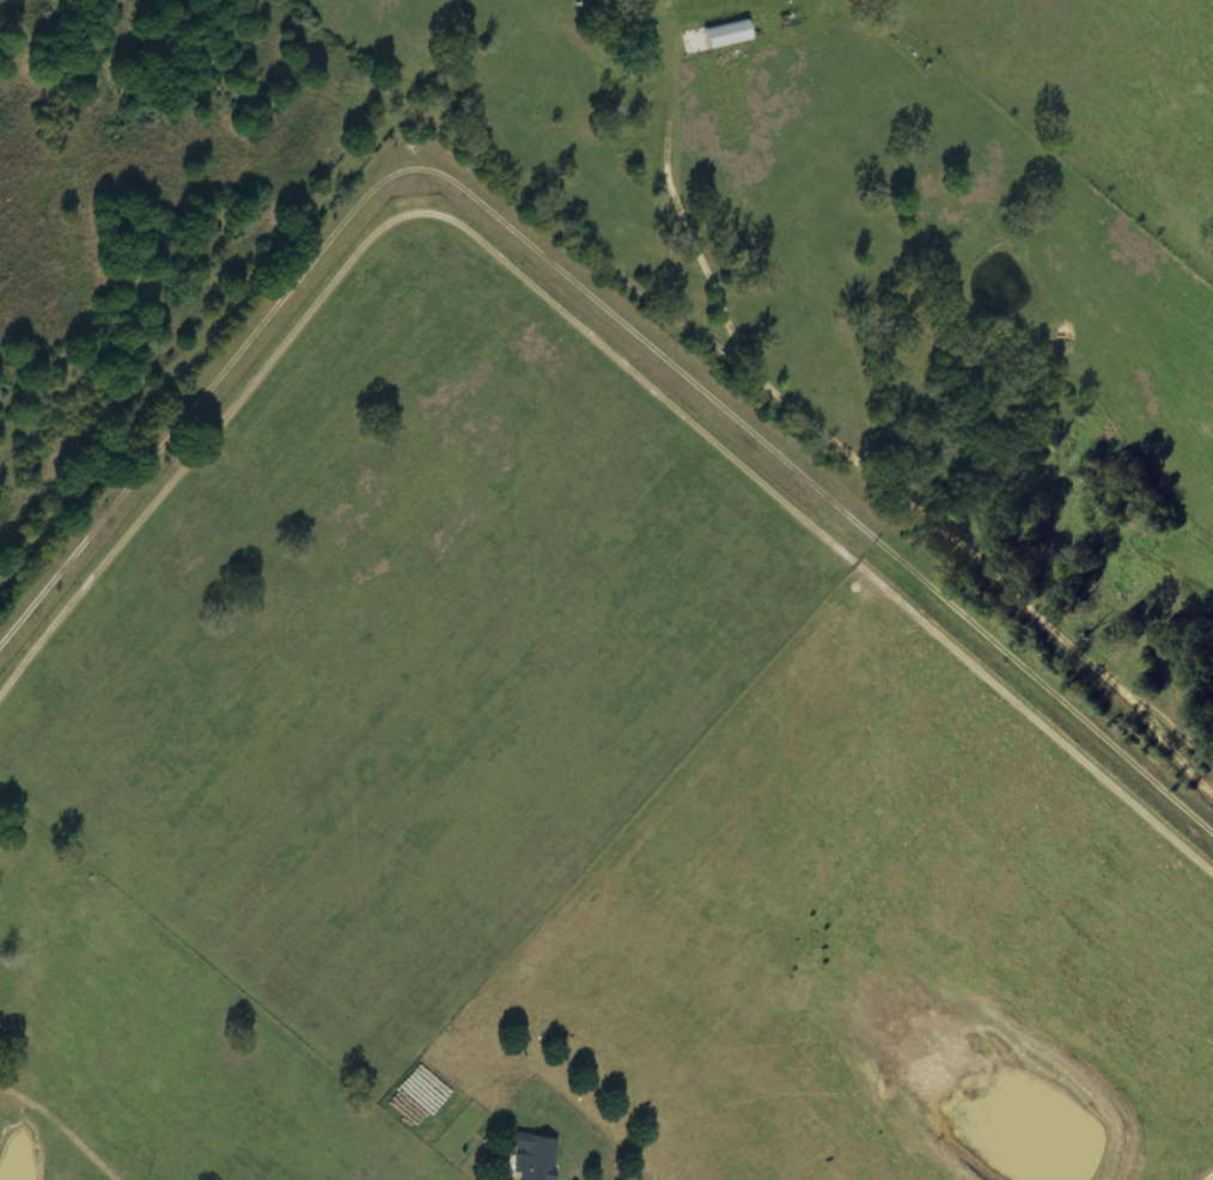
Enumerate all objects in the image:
building: (723, 35)
road: (577, 182)
road: (1211, 1178)

